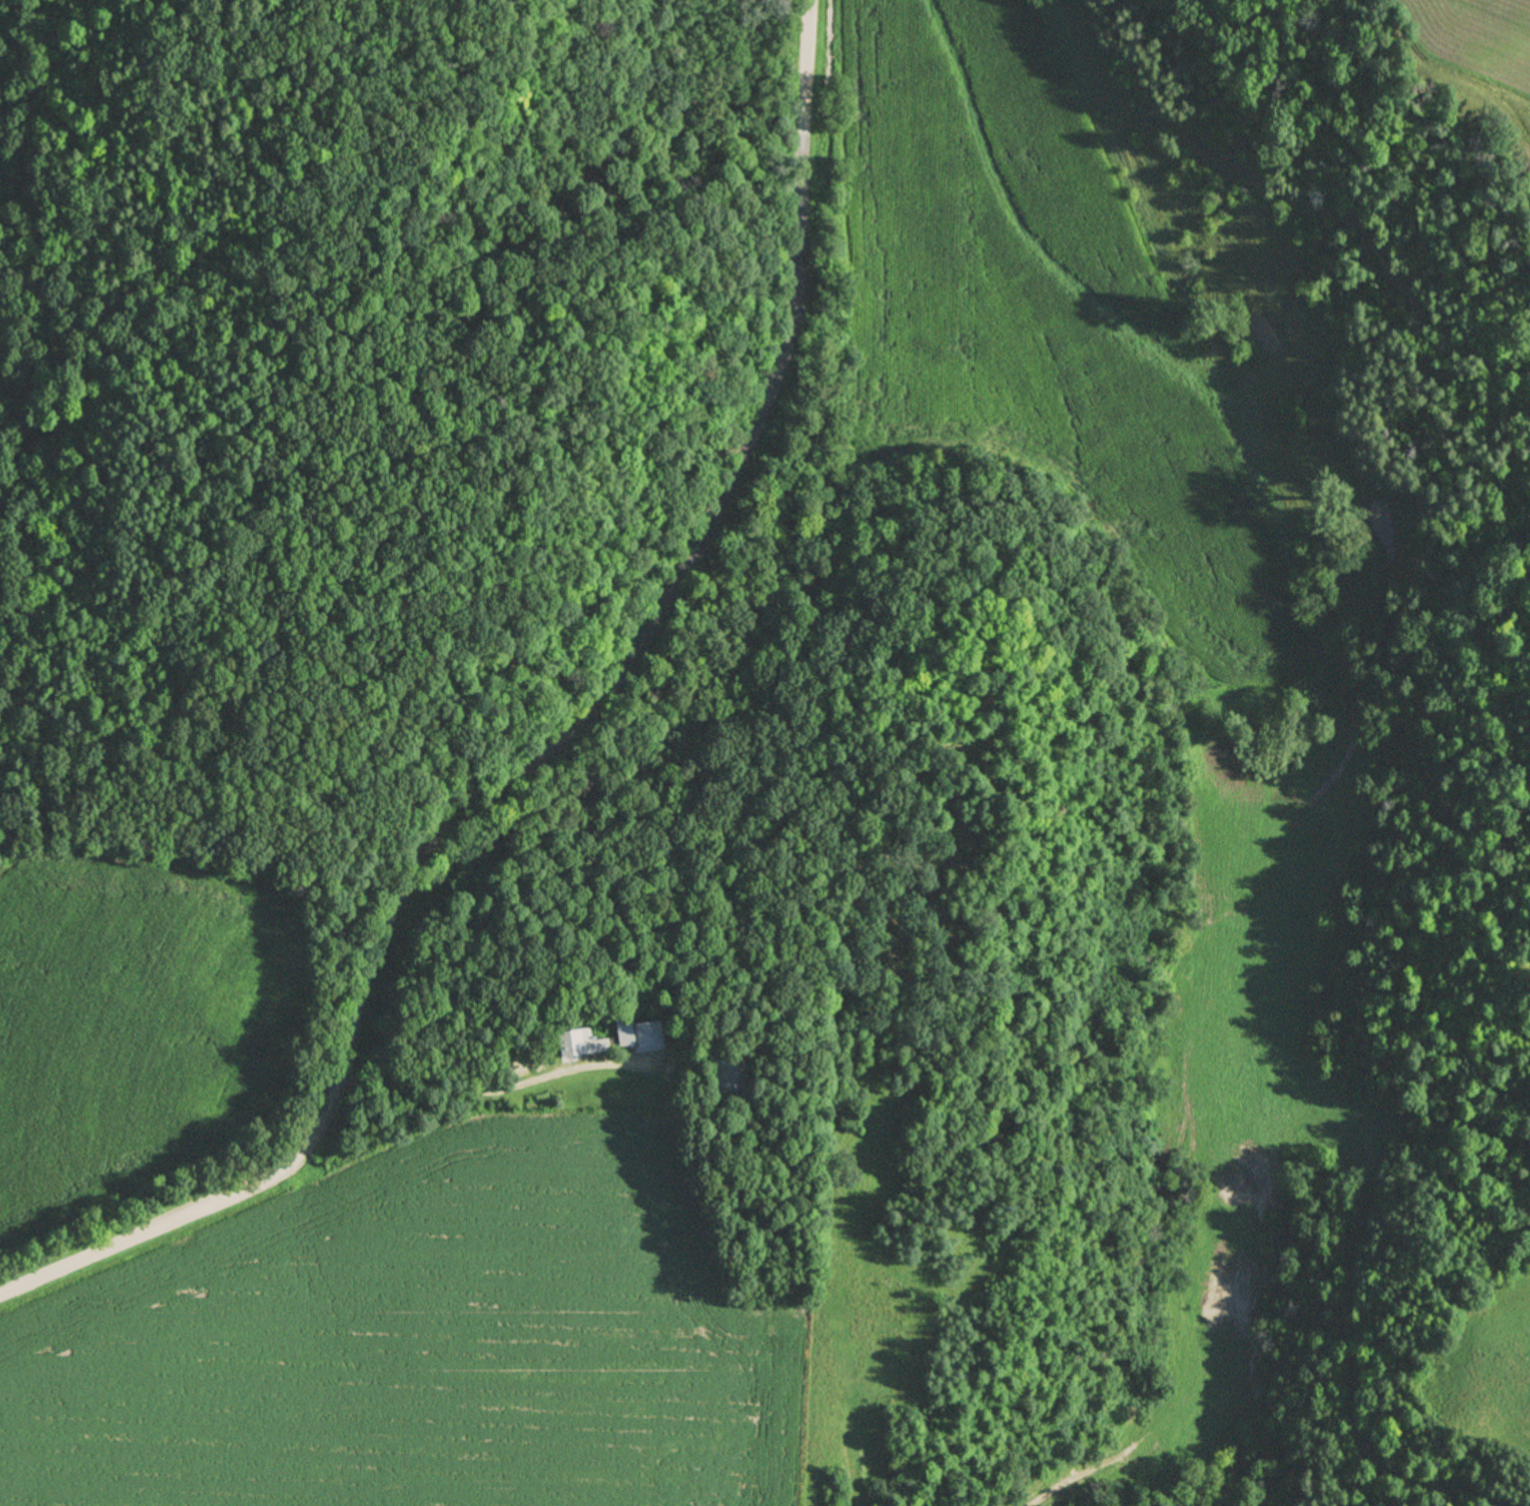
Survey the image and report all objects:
road: (547, 749)
crop: (151, 1040)
building: (731, 1076)
road: (491, 1088)

